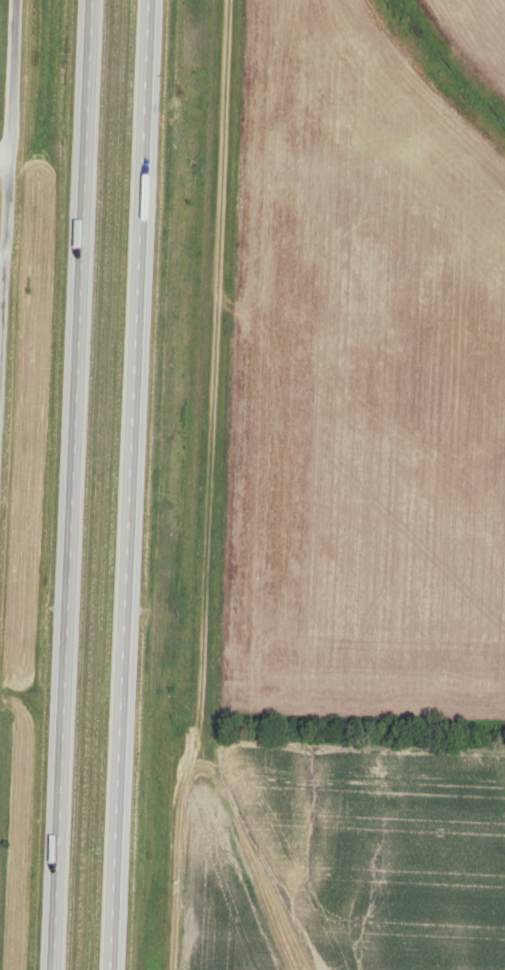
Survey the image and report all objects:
road: (5, 167)
road: (7, 209)
road: (73, 484)
road: (130, 484)

